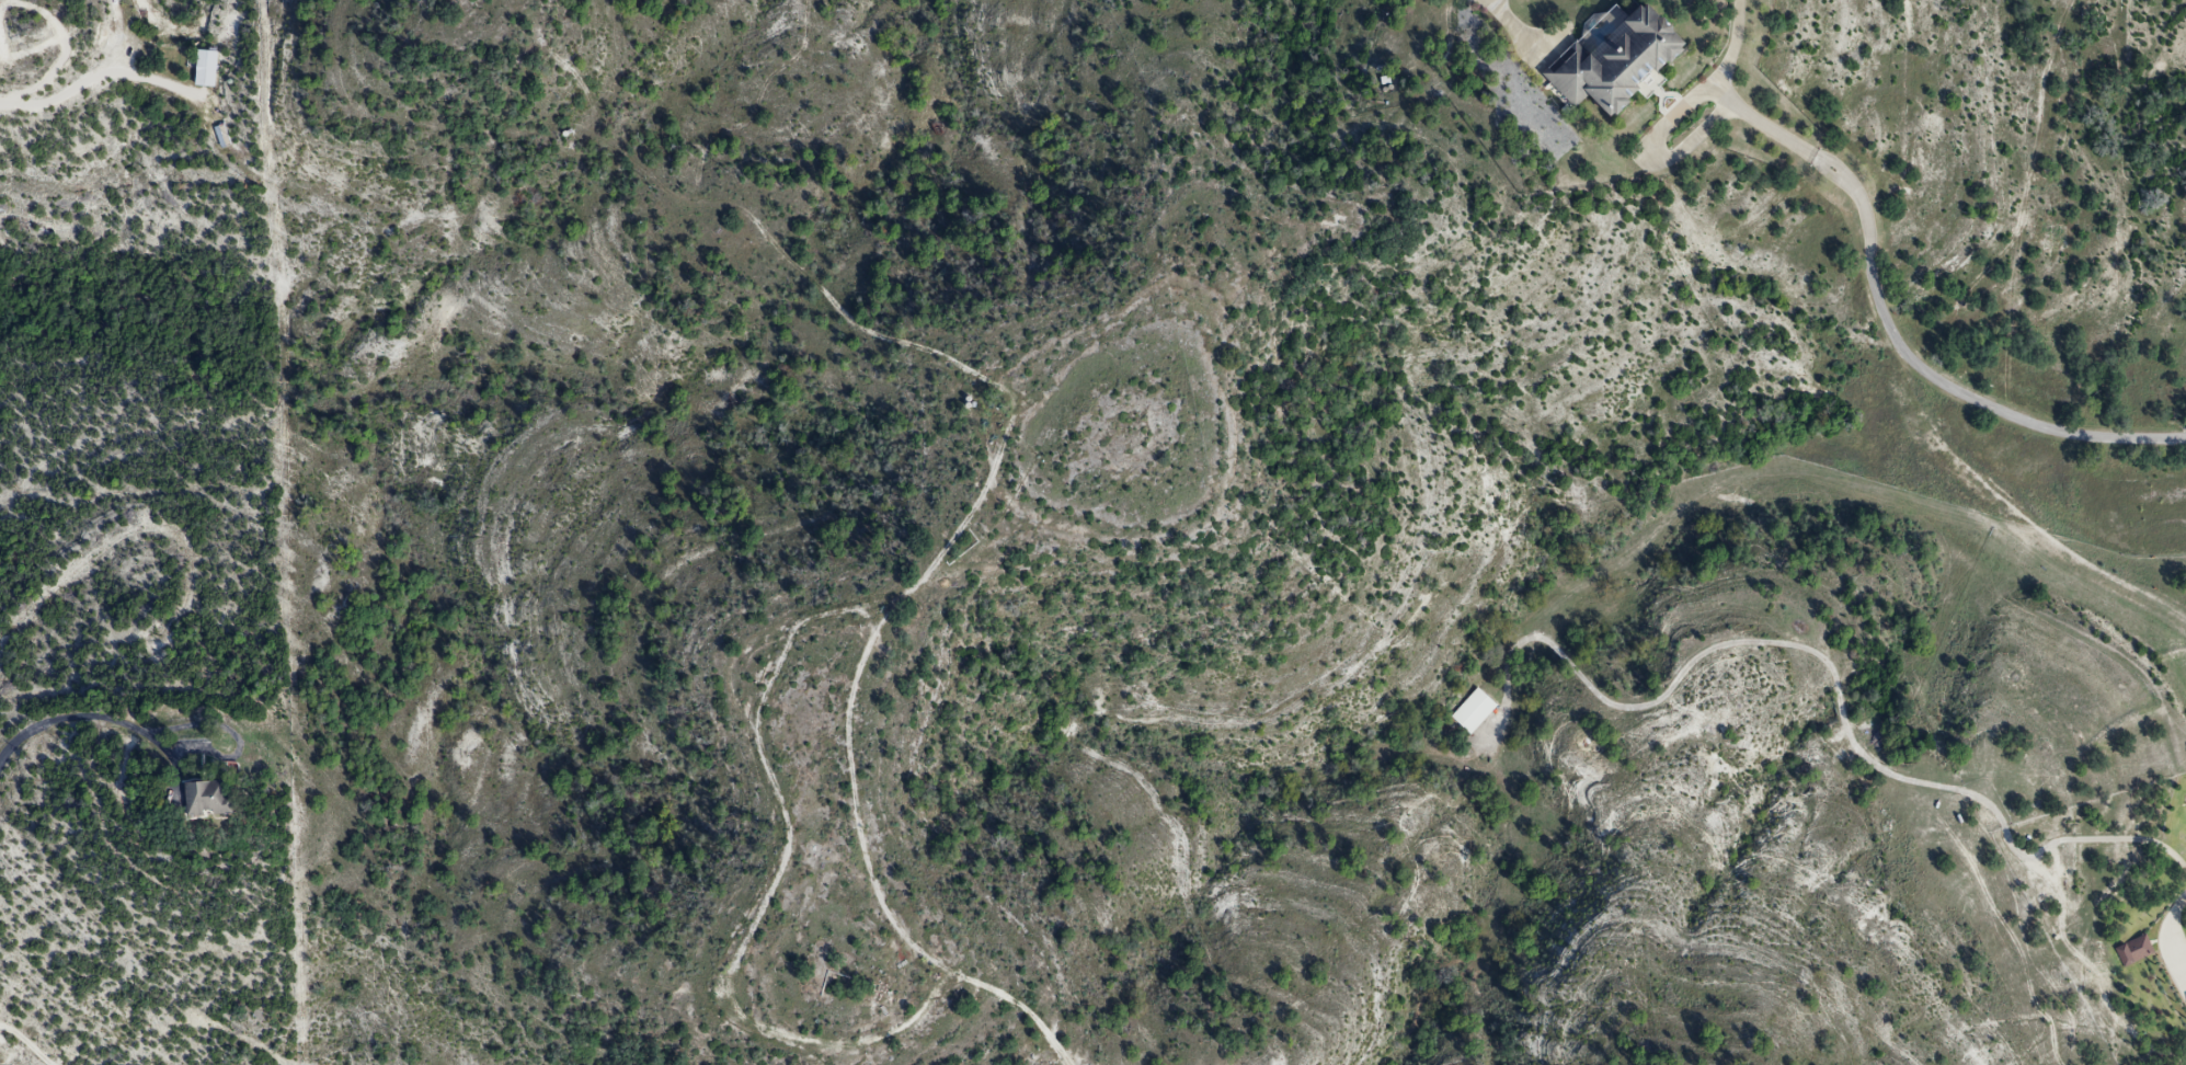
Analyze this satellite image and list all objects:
building: (1614, 60)
road: (99, 70)
building: (205, 70)
road: (1892, 332)
building: (1473, 713)
road: (61, 714)
building: (209, 801)
building: (2133, 953)
road: (28, 1042)

